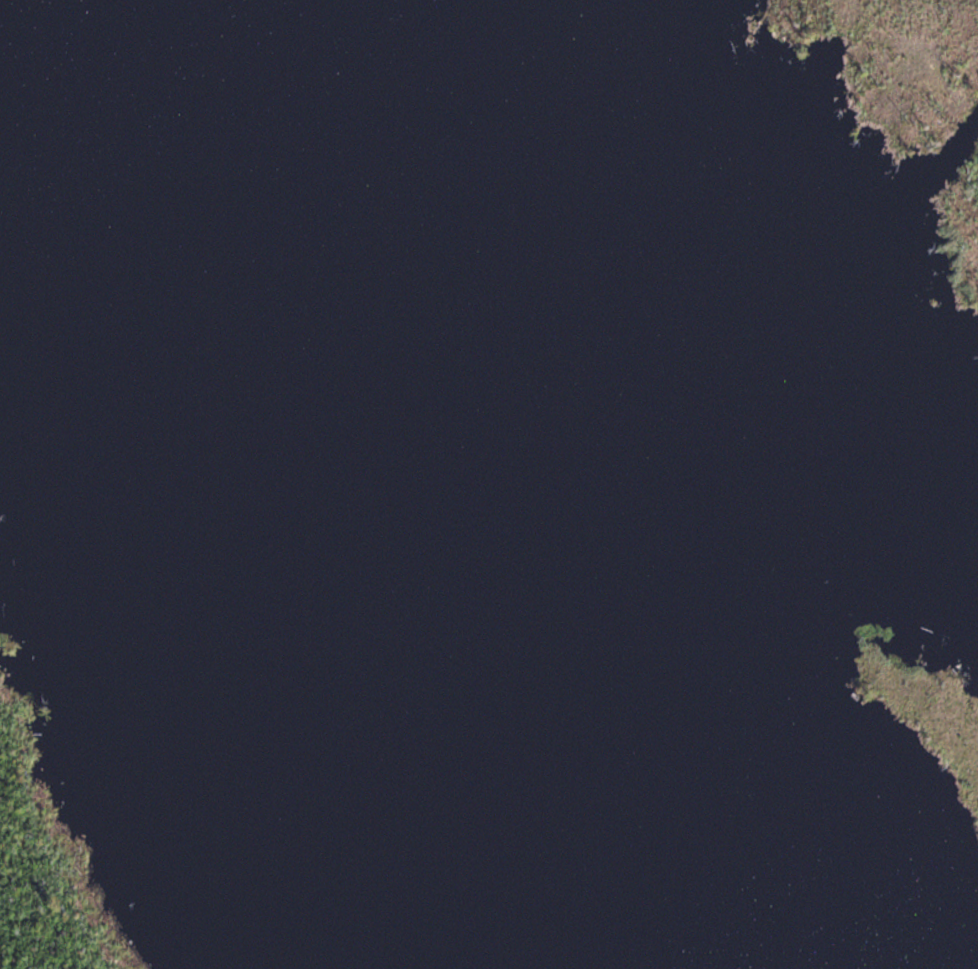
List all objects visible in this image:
river: (475, 475)

